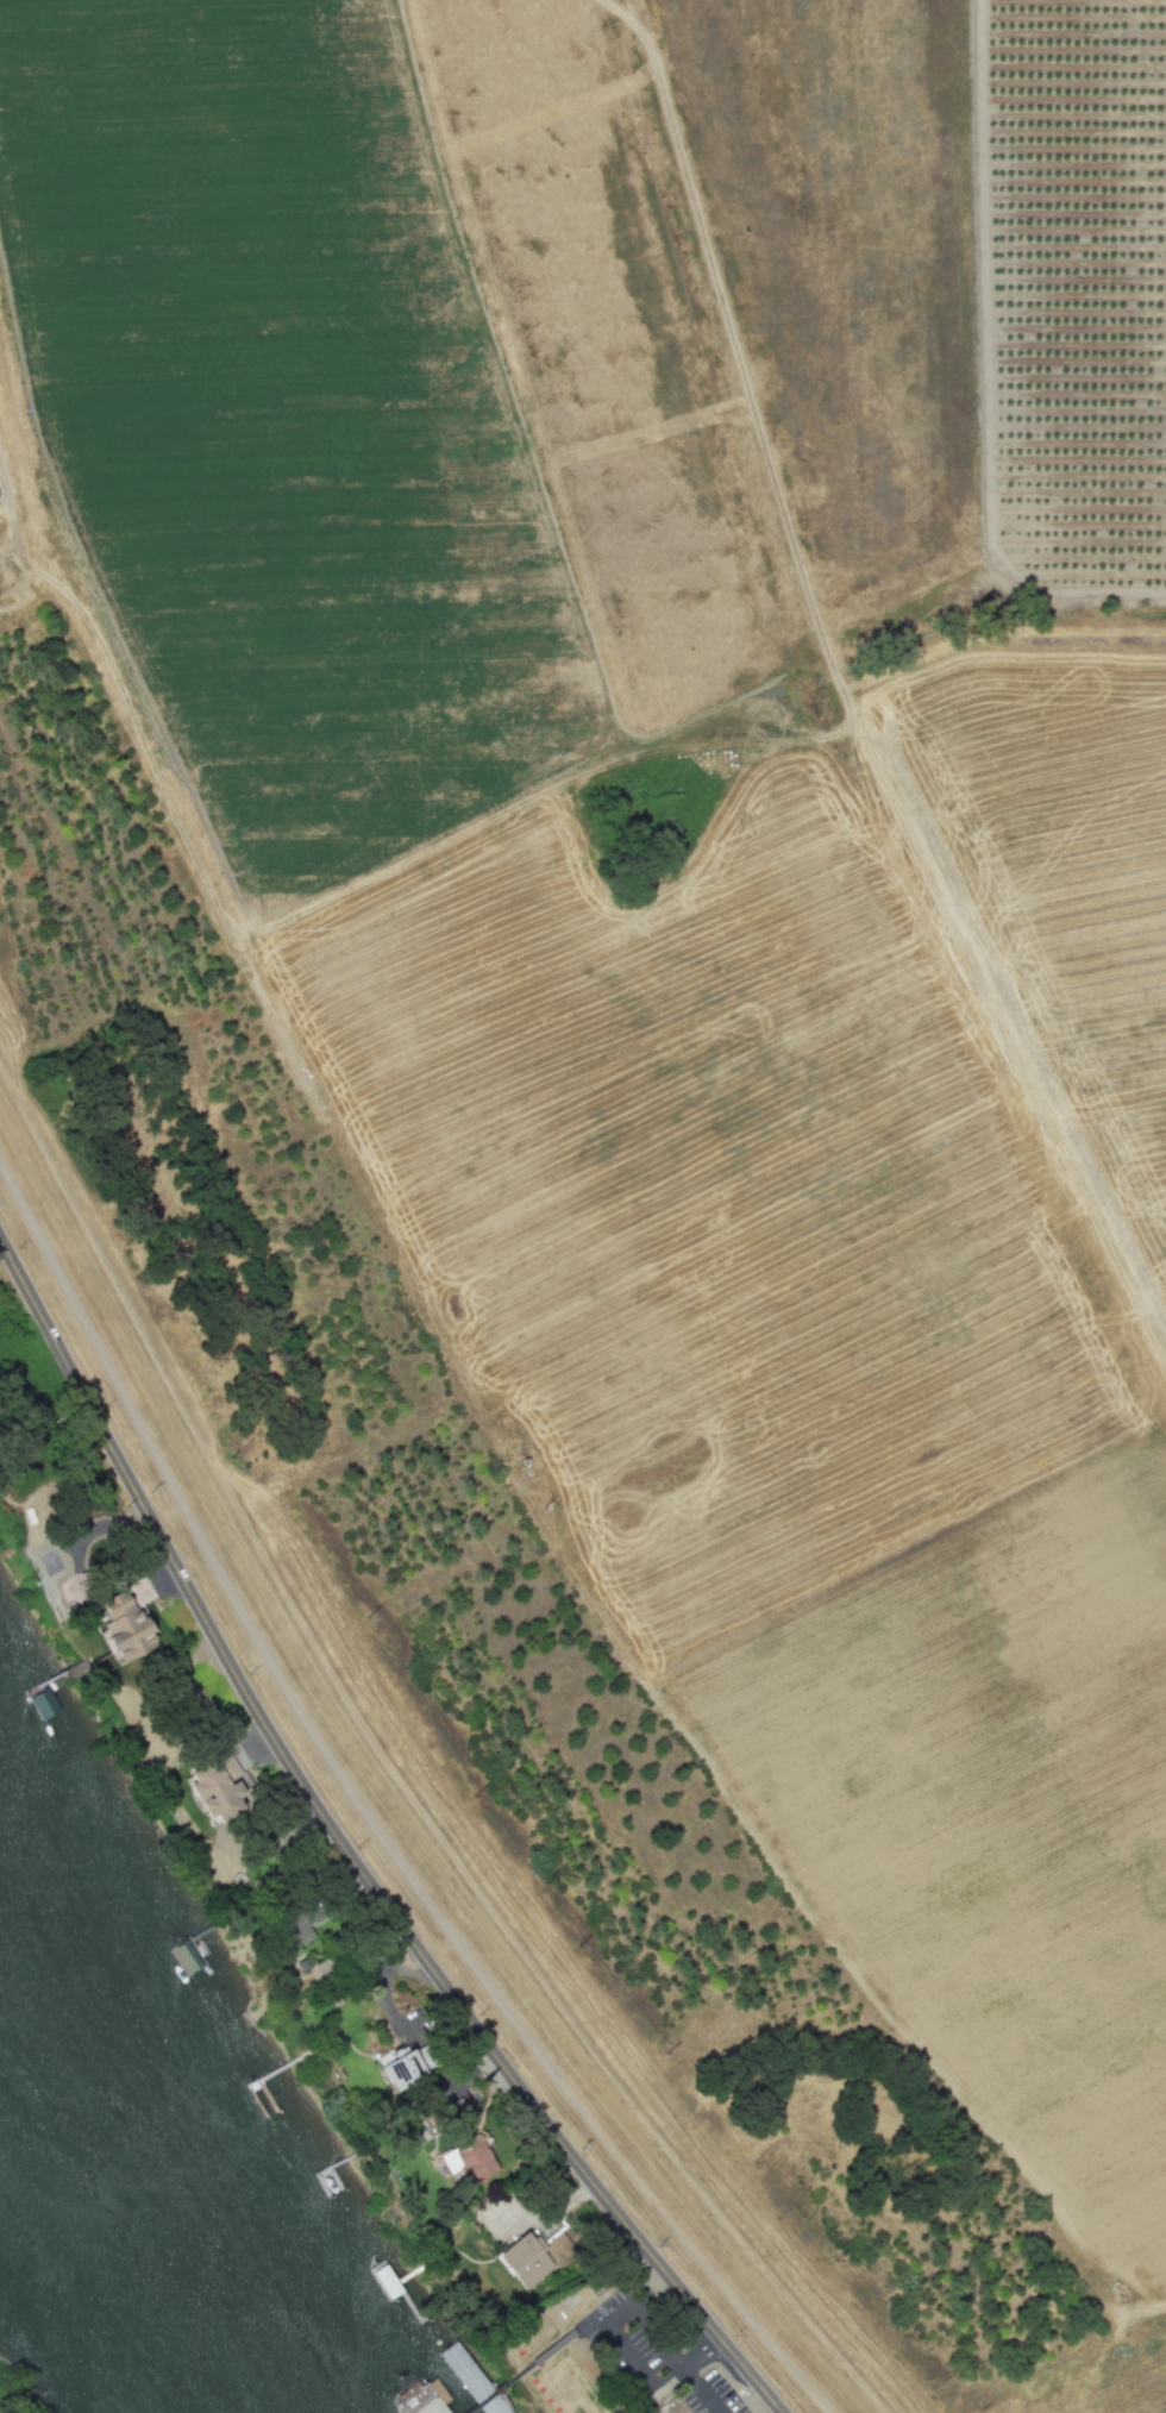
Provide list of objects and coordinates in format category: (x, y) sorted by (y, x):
building: (39, 1705)
building: (215, 1784)
road: (349, 1853)
building: (301, 1922)
building: (408, 2066)
building: (469, 2161)
river: (144, 2188)
building: (524, 2260)
road: (606, 2325)
road: (682, 2369)
building: (464, 2371)

